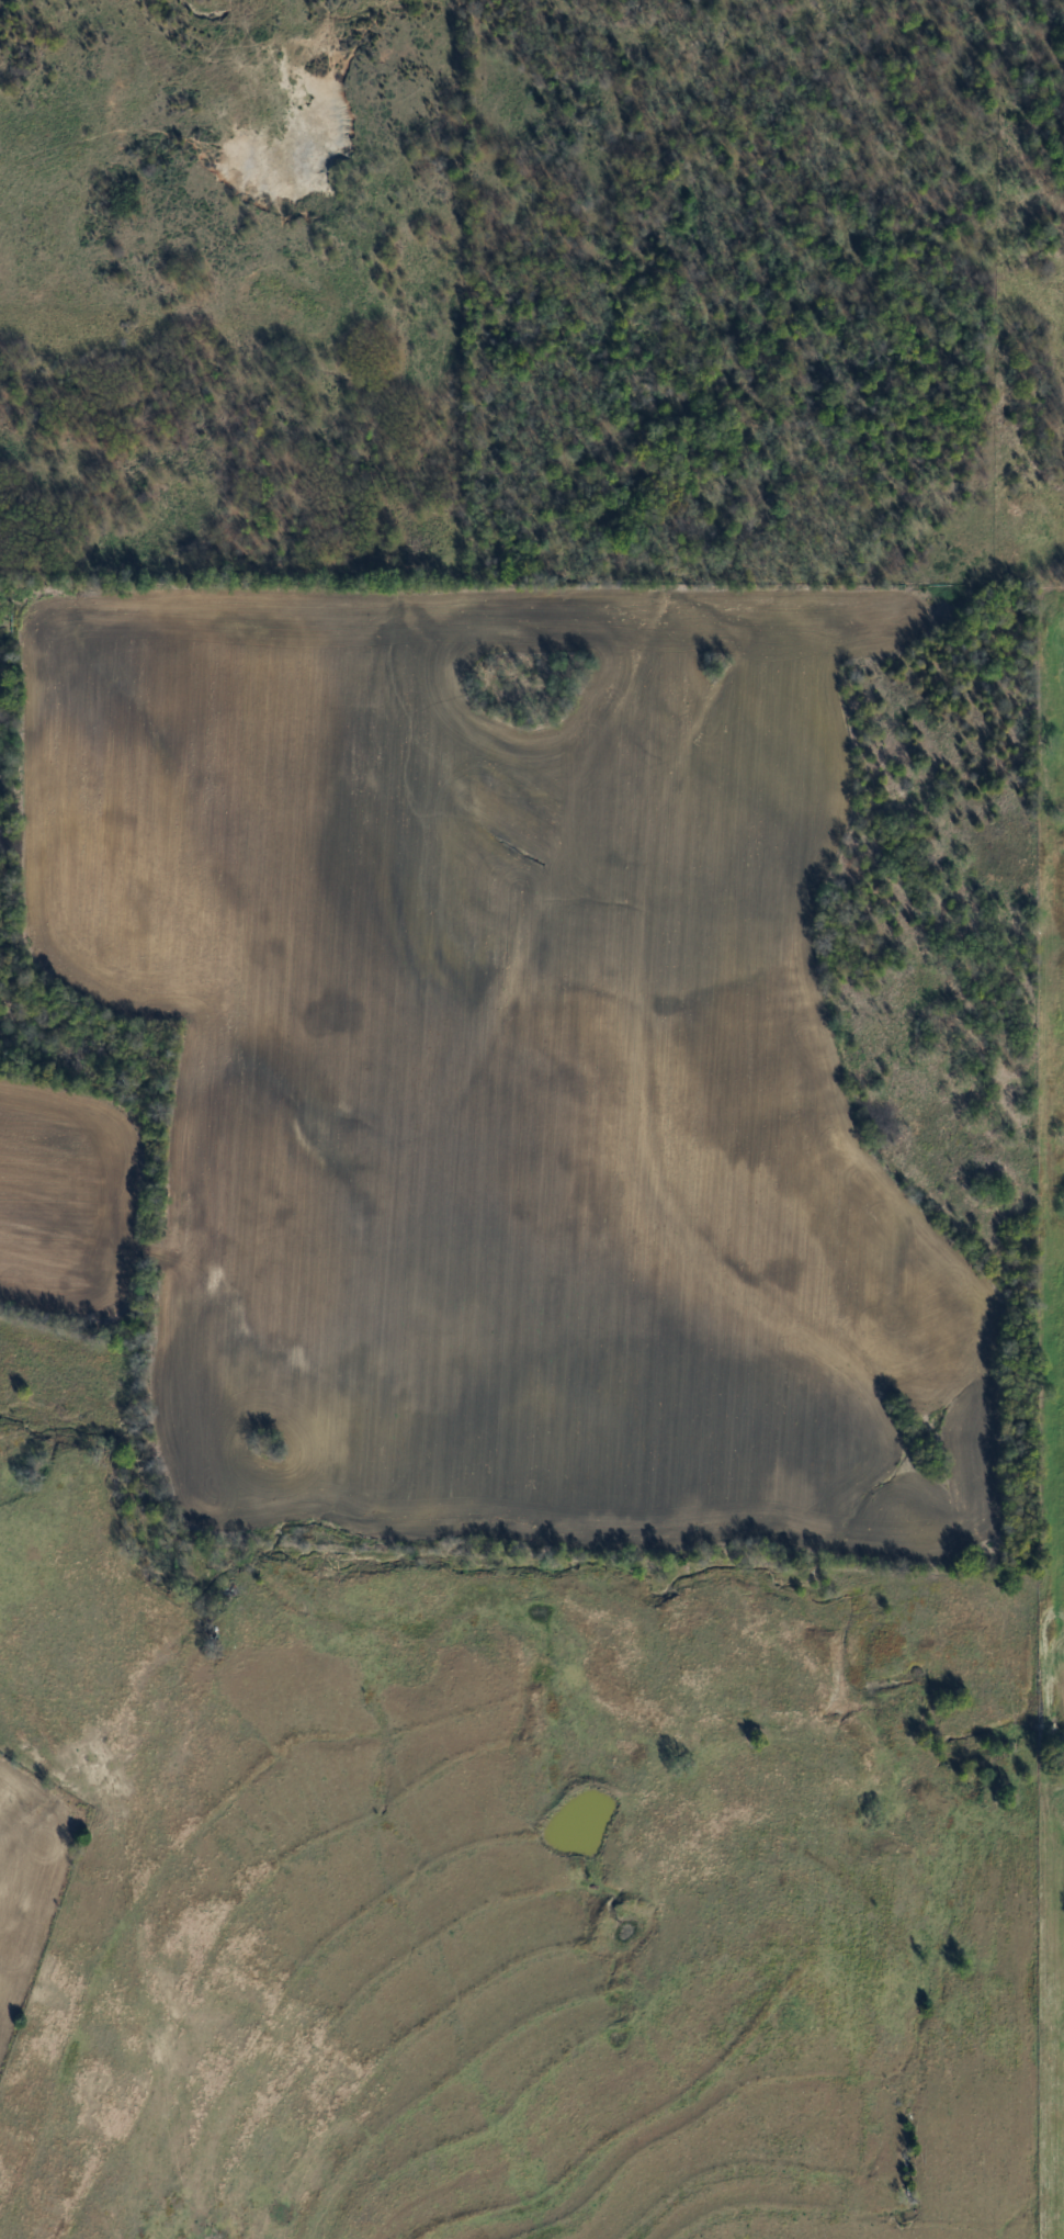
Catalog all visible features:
crop: (29, 1875)

